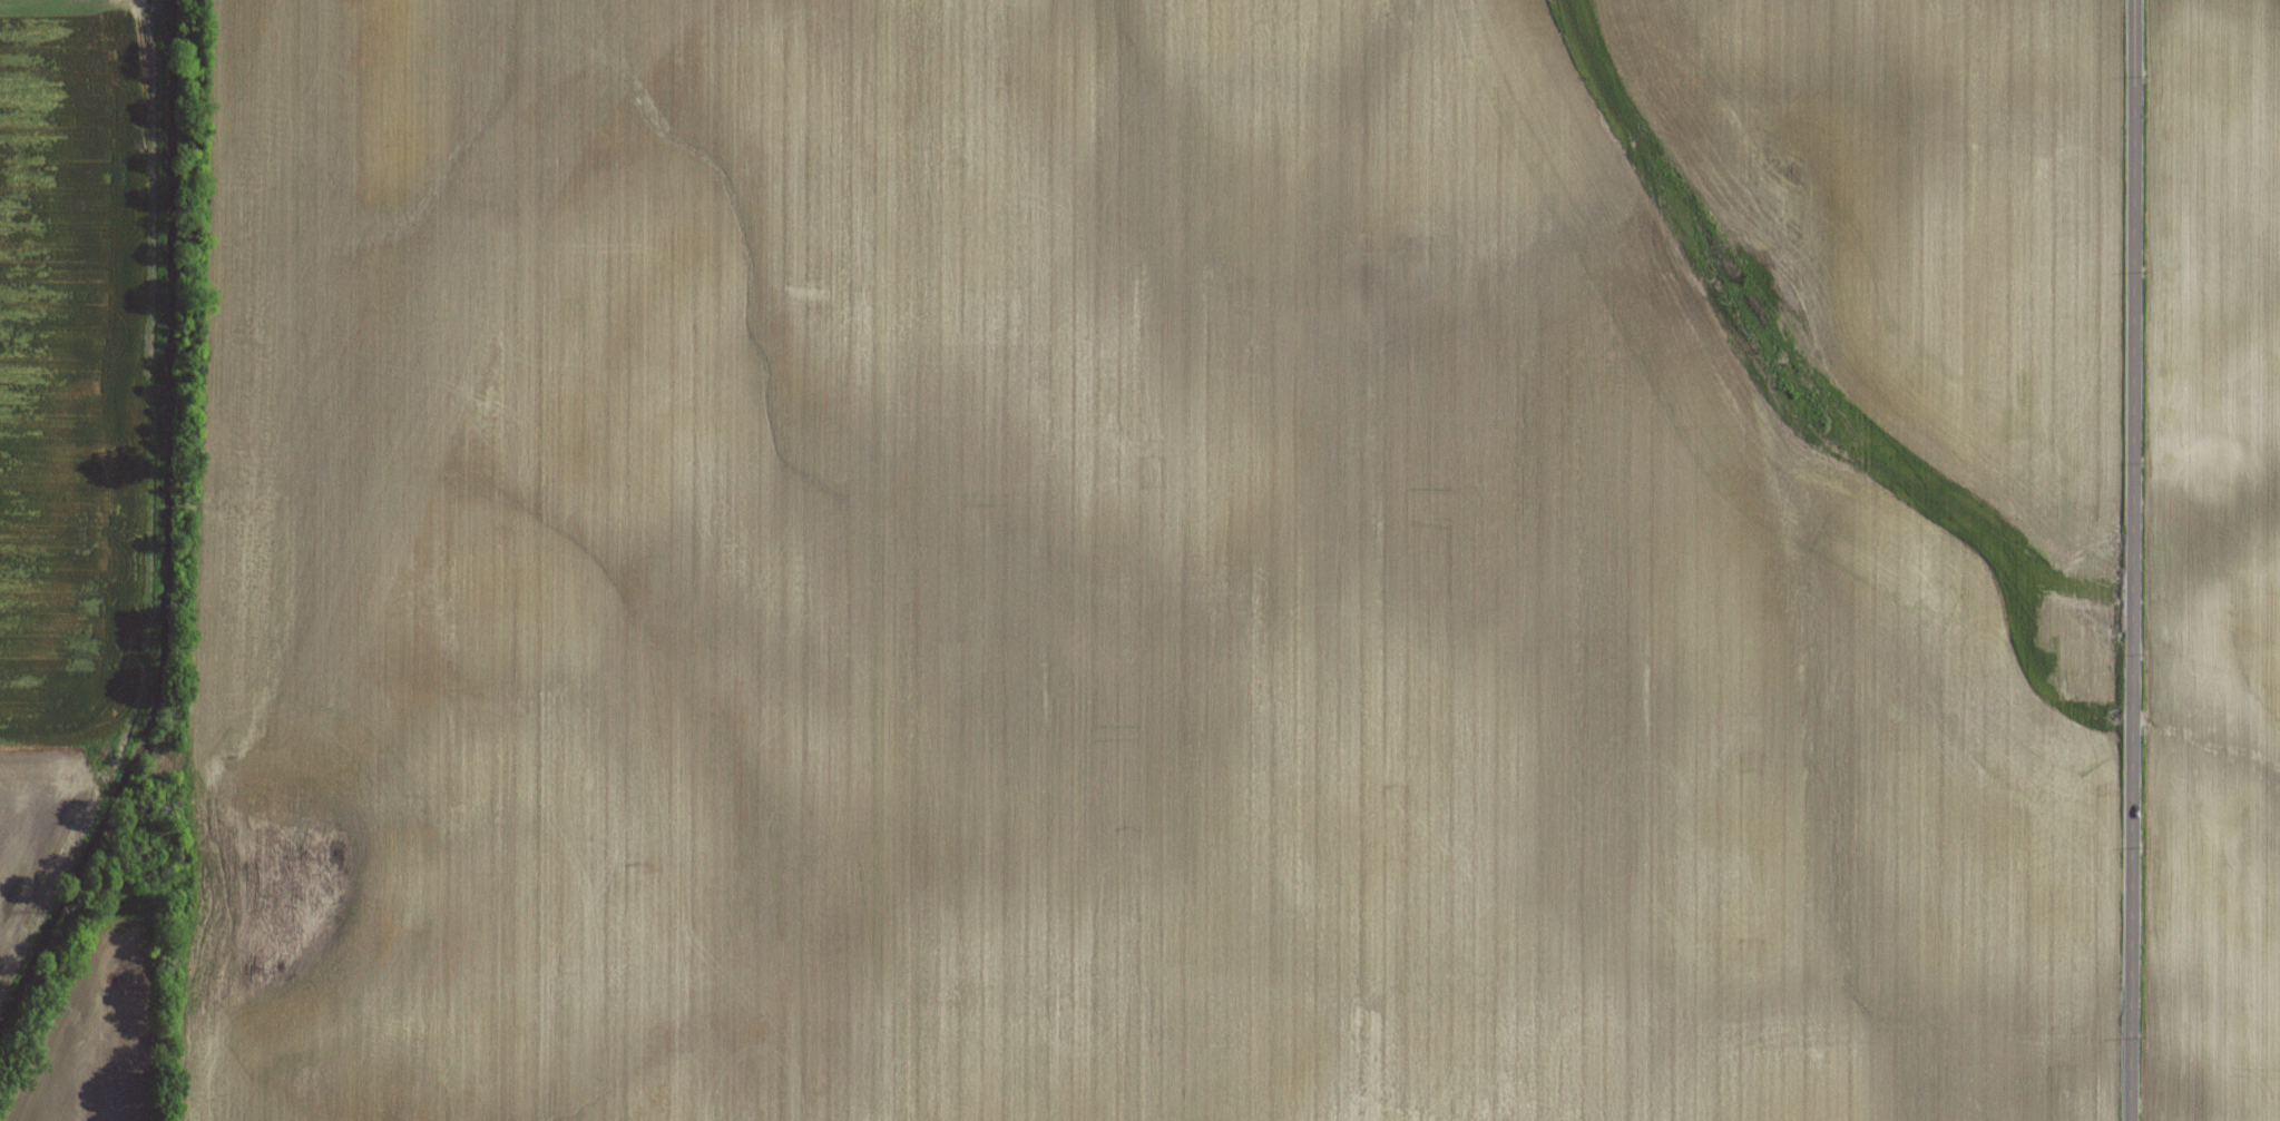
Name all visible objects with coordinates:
road: (2132, 560)
crop: (2214, 561)

